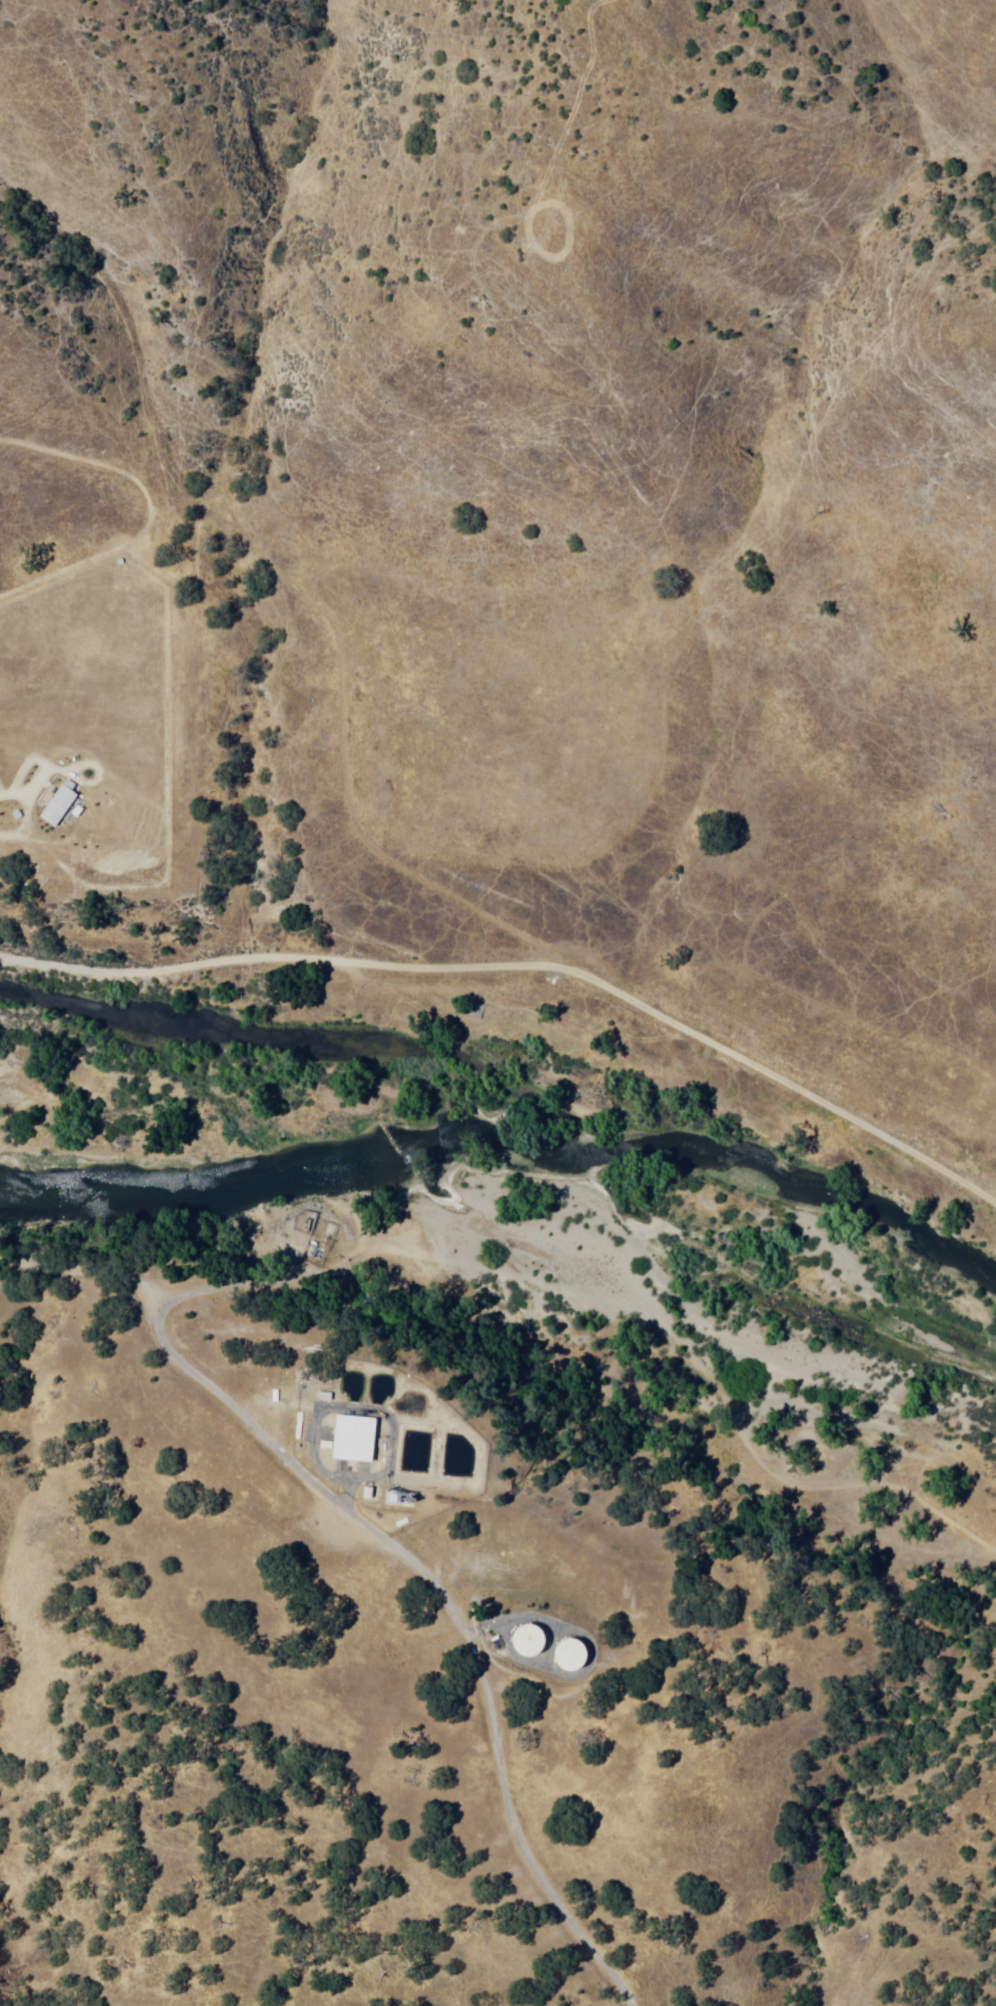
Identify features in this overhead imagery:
road: (91, 460)
road: (80, 564)
crop: (93, 705)
road: (341, 715)
crop: (499, 717)
road: (527, 975)
building: (472, 1009)
river: (490, 1159)
river: (341, 1167)
river: (189, 1188)
river: (79, 1192)
river: (602, 1205)
river: (836, 1324)
building: (353, 1440)
wastewater plant: (378, 1450)
road: (388, 1541)
storage tank: (531, 1635)
building: (521, 1642)
storage tank: (572, 1651)
building: (565, 1656)

